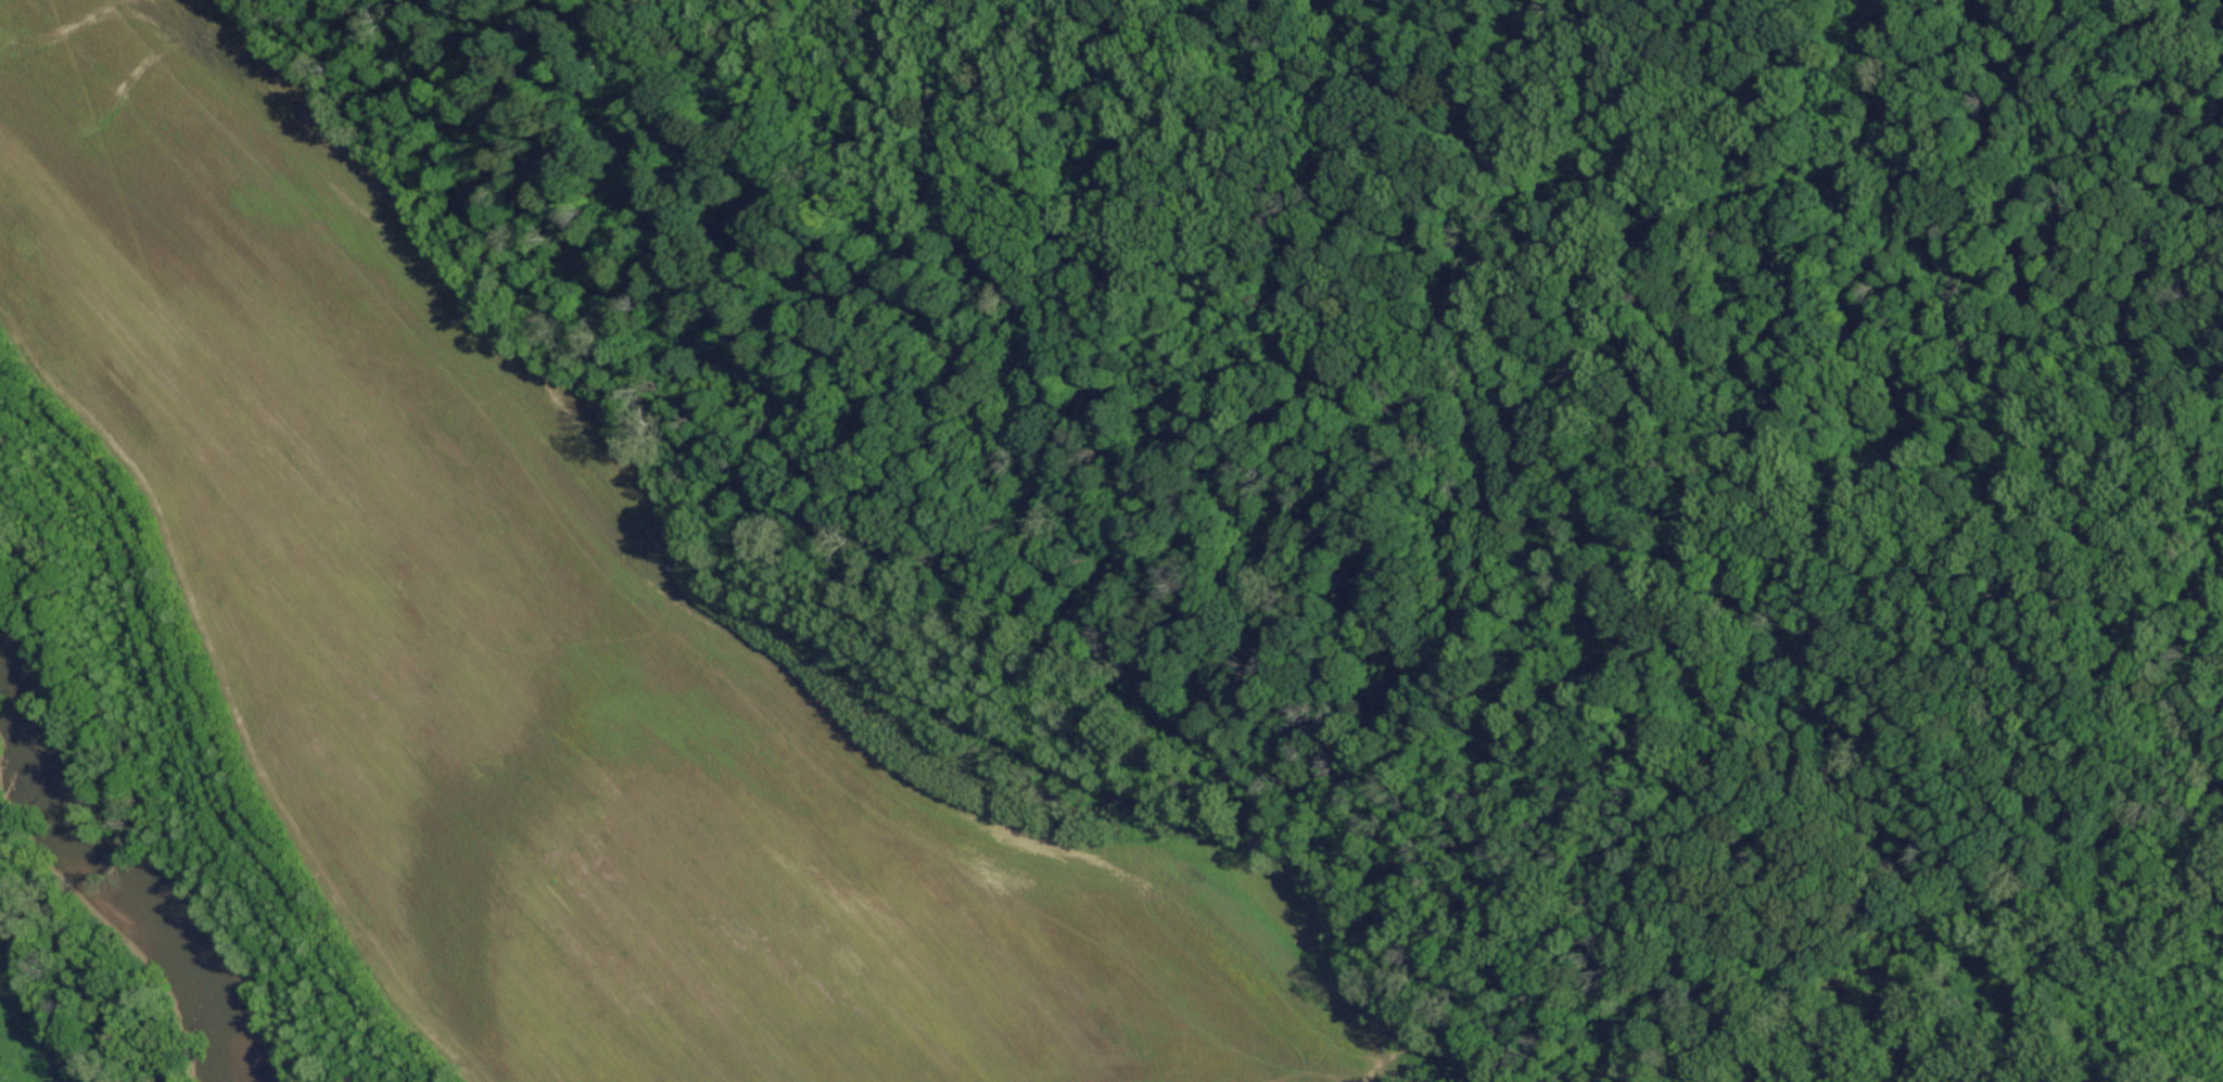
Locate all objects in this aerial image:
river: (118, 871)

